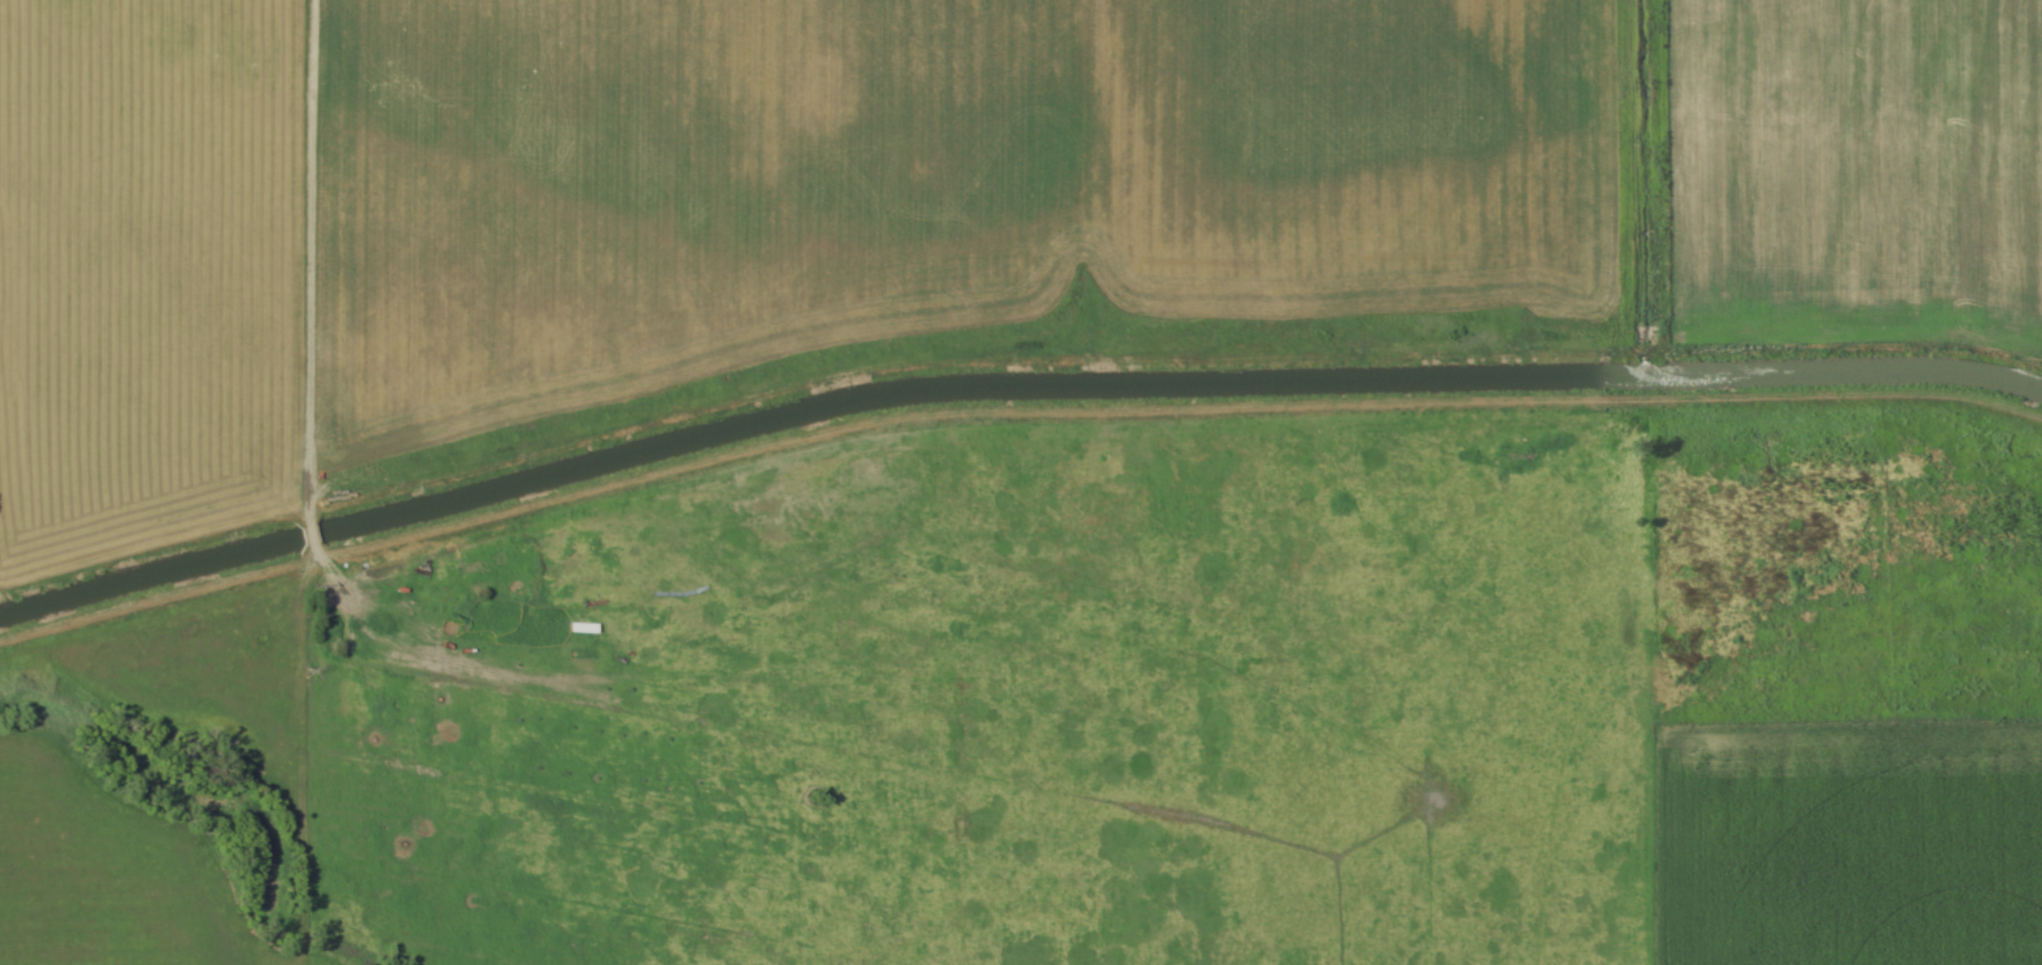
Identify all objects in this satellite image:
crop: (1856, 165)
crop: (725, 210)
road: (316, 262)
road: (308, 535)
road: (384, 576)
crop: (1846, 846)
crop: (105, 876)

